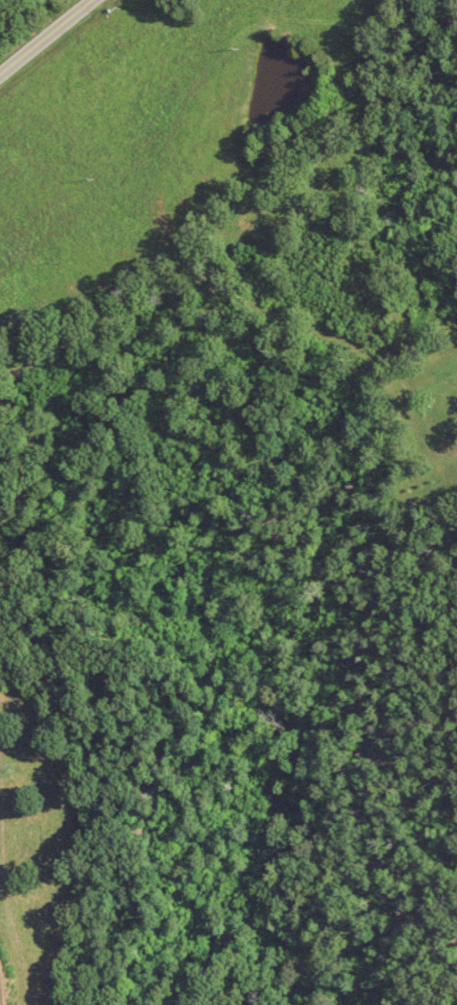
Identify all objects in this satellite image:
road: (44, 38)

